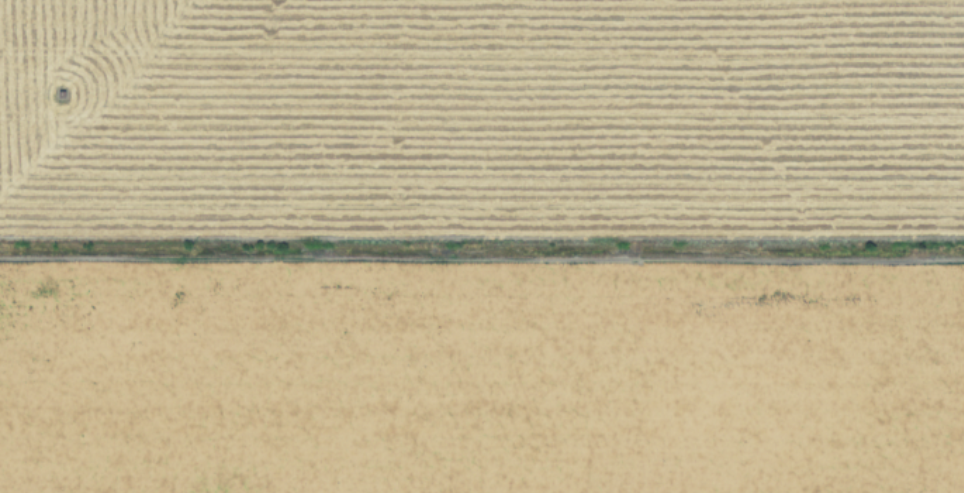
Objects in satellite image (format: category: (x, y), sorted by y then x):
crop: (482, 246)

